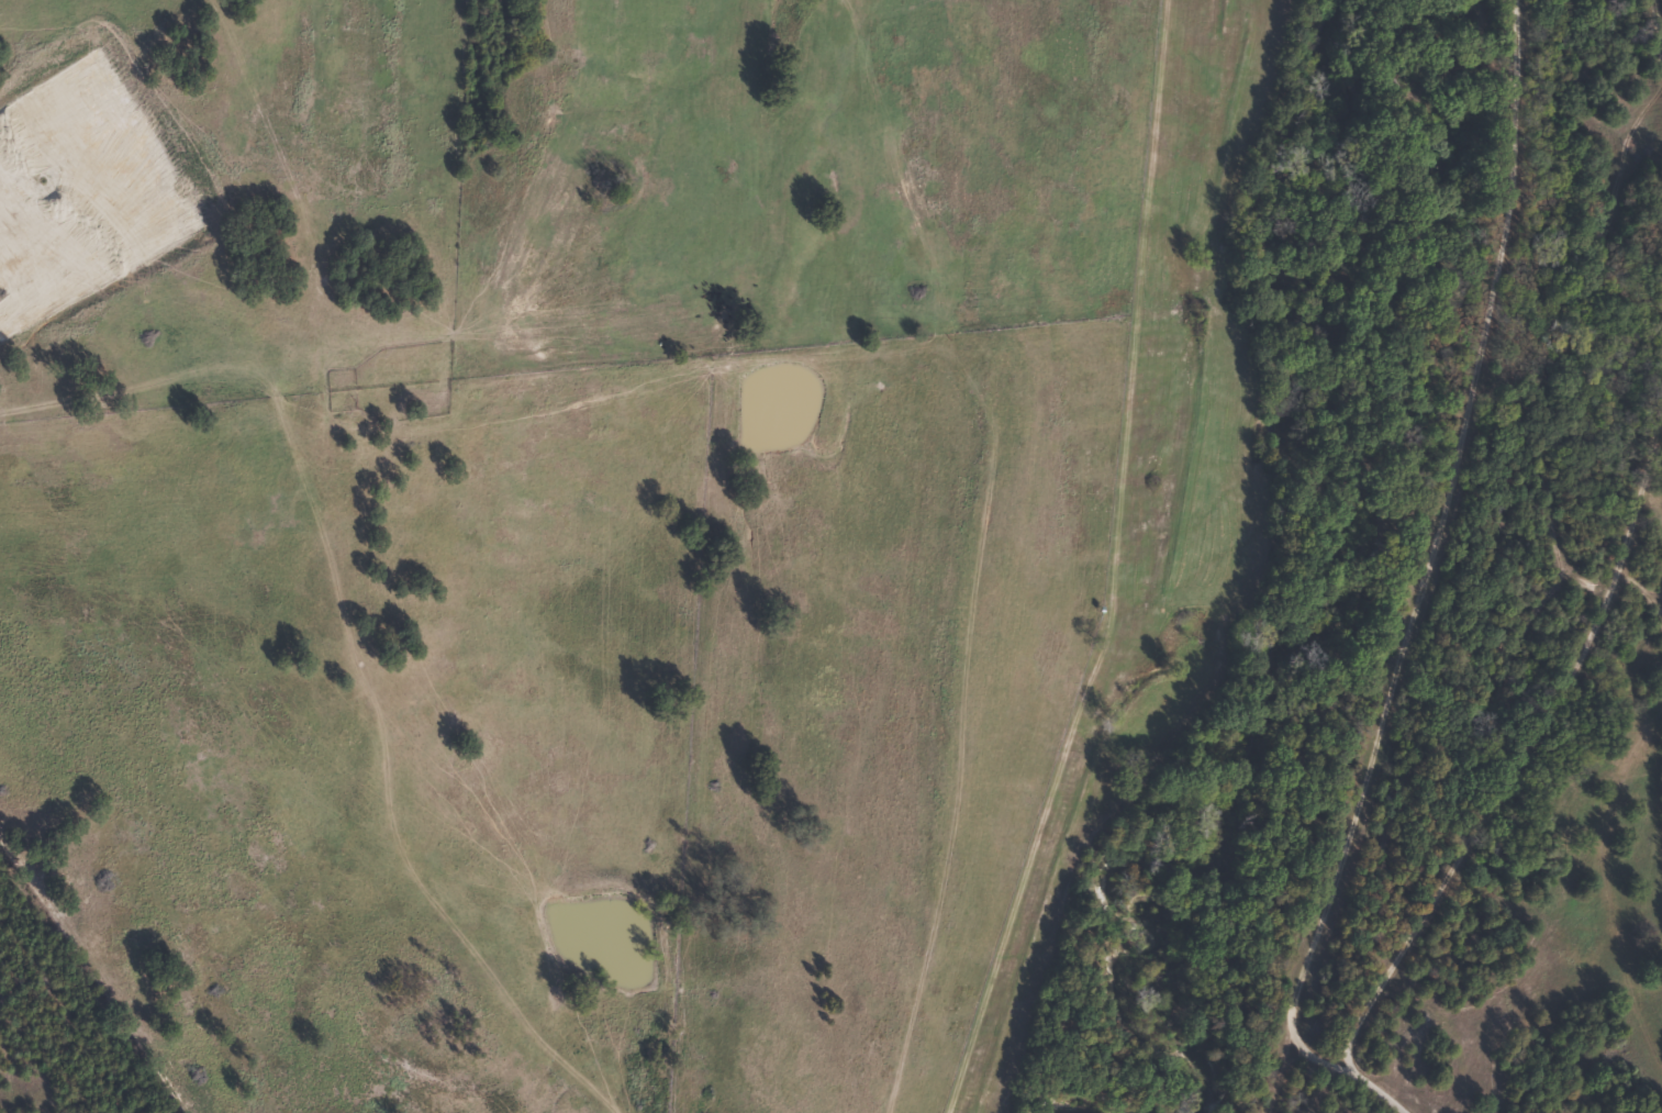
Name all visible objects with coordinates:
railway: (1423, 560)

